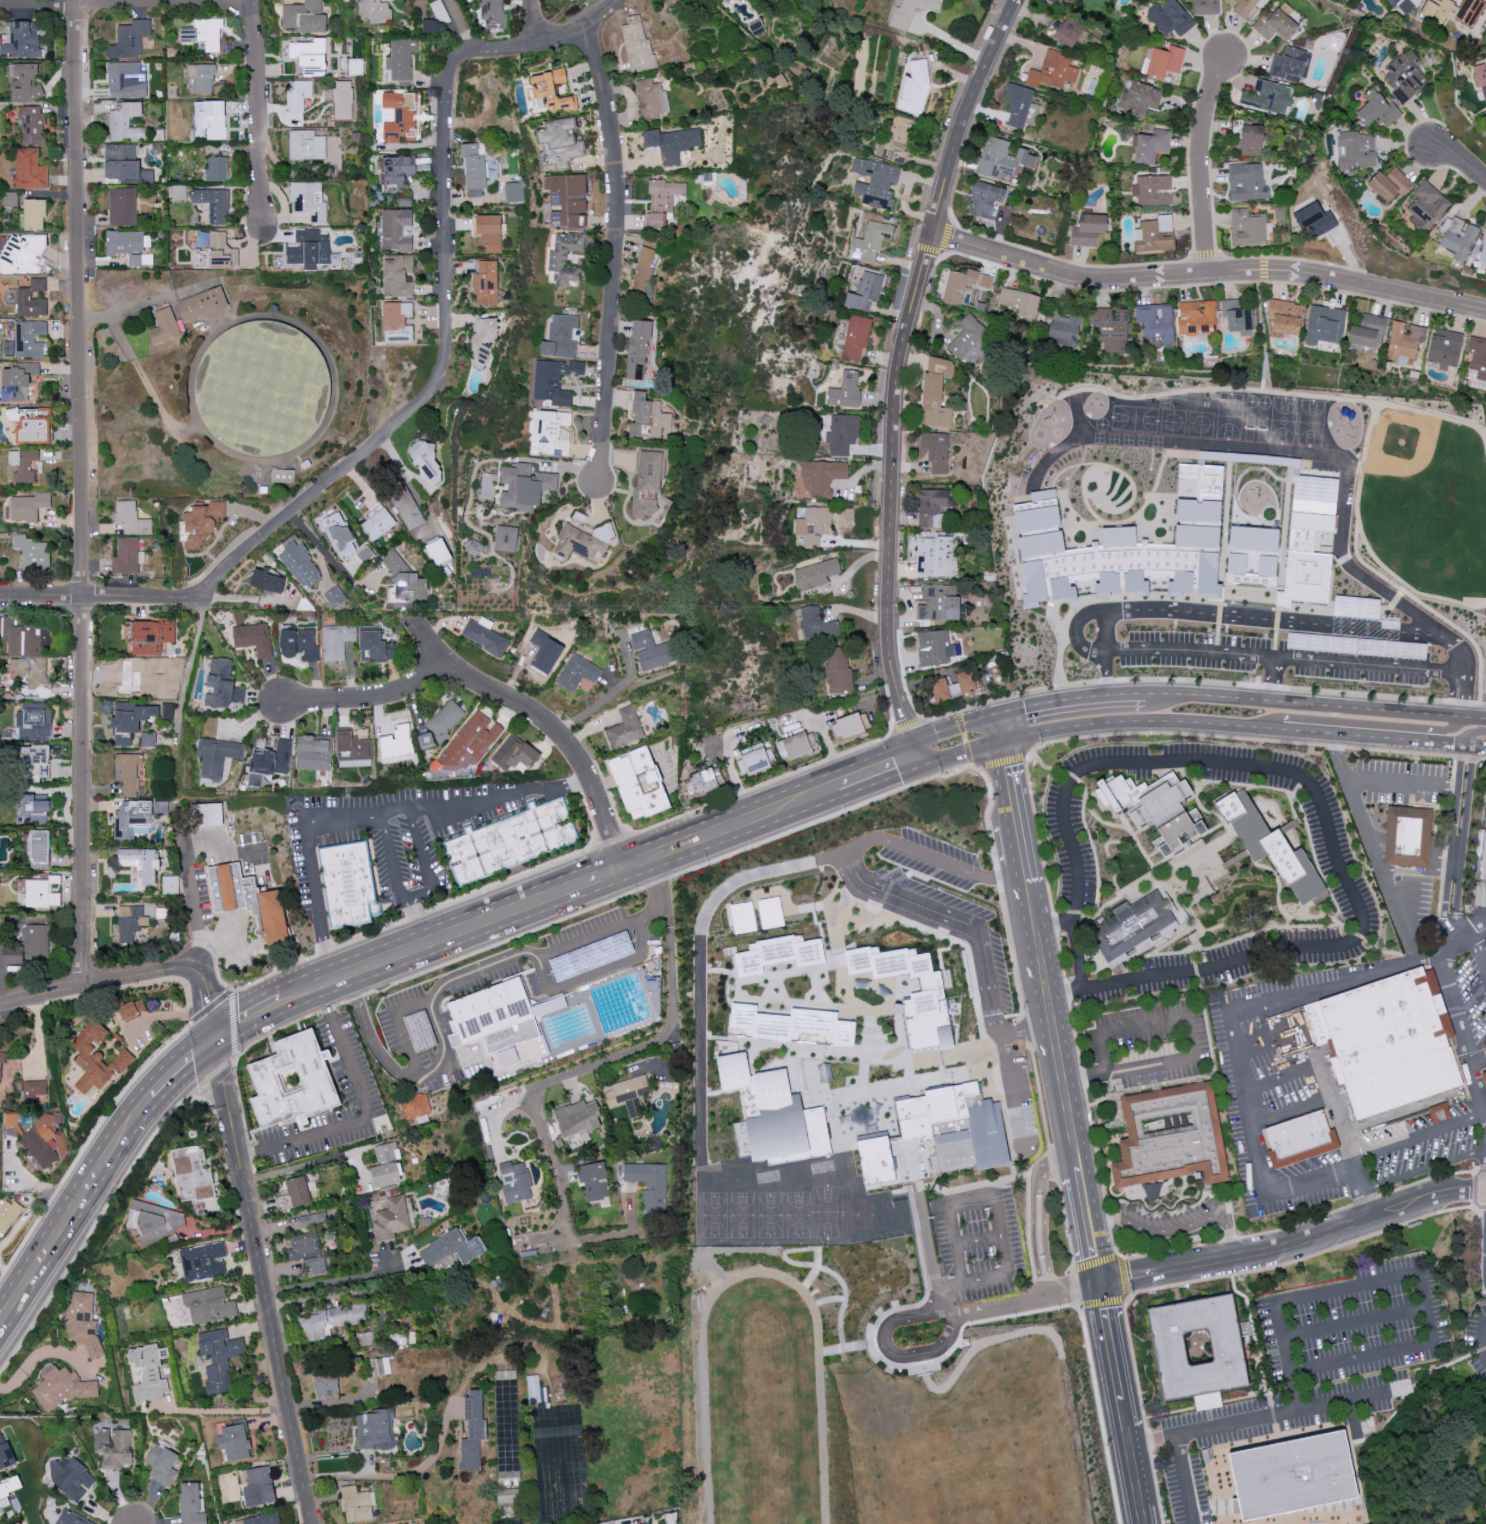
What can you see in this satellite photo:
road: (126, 1)
building: (1404, 5)
building: (1206, 7)
building: (1243, 7)
building: (374, 10)
building: (909, 11)
building: (1452, 11)
building: (491, 14)
building: (304, 16)
building: (1170, 17)
road: (534, 23)
road: (462, 25)
building: (1274, 25)
road: (577, 27)
building: (1070, 31)
building: (203, 33)
building: (130, 39)
building: (22, 40)
building: (637, 45)
building: (400, 61)
building: (1163, 61)
building: (307, 62)
building: (1290, 64)
building: (355, 66)
building: (1053, 72)
building: (1405, 77)
building: (1480, 77)
building: (205, 79)
building: (126, 80)
building: (25, 83)
building: (915, 88)
building: (551, 90)
building: (298, 95)
building: (1267, 96)
building: (651, 98)
building: (342, 99)
building: (1139, 99)
building: (1377, 108)
road: (259, 115)
building: (399, 116)
building: (210, 119)
building: (0, 121)
building: (126, 121)
building: (31, 125)
building: (895, 140)
building: (1251, 140)
building: (672, 142)
building: (560, 143)
building: (306, 145)
building: (1149, 146)
building: (1356, 150)
building: (1001, 158)
road: (1461, 161)
building: (123, 164)
road: (1201, 164)
building: (216, 168)
building: (29, 169)
building: (473, 169)
building: (398, 171)
road: (448, 173)
building: (875, 182)
building: (1247, 182)
building: (1390, 183)
building: (1153, 189)
building: (514, 191)
building: (178, 192)
building: (570, 198)
building: (984, 199)
building: (10, 200)
building: (309, 200)
building: (662, 201)
building: (213, 204)
building: (1426, 205)
building: (122, 206)
building: (34, 214)
building: (1315, 219)
building: (1247, 227)
building: (1088, 229)
building: (396, 230)
building: (488, 232)
building: (1155, 234)
building: (1457, 237)
building: (870, 241)
building: (130, 246)
building: (1483, 248)
building: (308, 249)
building: (222, 251)
building: (23, 253)
road: (615, 253)
building: (564, 257)
building: (644, 265)
road: (1207, 274)
building: (397, 275)
building: (486, 282)
building: (963, 284)
building: (865, 291)
building: (24, 295)
building: (202, 303)
building: (1238, 316)
building: (1196, 317)
building: (1284, 317)
building: (397, 322)
building: (1156, 322)
building: (1061, 323)
building: (1324, 325)
building: (164, 326)
building: (1112, 328)
building: (1367, 330)
building: (561, 336)
building: (855, 338)
building: (30, 339)
building: (970, 339)
building: (483, 340)
building: (1404, 341)
building: (638, 350)
building: (1445, 350)
building: (1476, 357)
road: (895, 375)
building: (20, 379)
building: (553, 380)
building: (262, 384)
storage tank: (262, 384)
building: (845, 391)
building: (936, 392)
building: (648, 416)
building: (30, 424)
building: (550, 433)
building: (842, 434)
building: (935, 451)
building: (426, 462)
building: (23, 464)
building: (282, 475)
building: (647, 482)
road: (324, 484)
building: (524, 486)
road: (80, 491)
building: (28, 506)
building: (406, 506)
building: (931, 507)
building: (131, 518)
building: (202, 524)
building: (378, 524)
building: (812, 525)
park: (1429, 526)
building: (339, 535)
building: (1310, 537)
building: (507, 538)
building: (580, 540)
building: (1123, 550)
building: (438, 551)
building: (32, 552)
building: (127, 556)
building: (934, 556)
building: (1252, 556)
building: (300, 565)
building: (816, 573)
building: (405, 579)
building: (267, 580)
road: (102, 594)
building: (334, 596)
park: (1305, 596)
building: (939, 602)
road: (1304, 622)
building: (817, 624)
road: (1108, 624)
parking lot: (1126, 632)
building: (150, 635)
building: (486, 636)
park: (1386, 637)
building: (22, 638)
building: (253, 638)
building: (336, 641)
park: (1358, 642)
building: (299, 644)
building: (374, 646)
building: (934, 648)
building: (652, 651)
building: (545, 653)
road: (1285, 656)
parking lot: (1372, 663)
building: (837, 669)
building: (31, 670)
road: (189, 670)
road: (1105, 670)
building: (577, 672)
road: (1271, 677)
road: (1202, 680)
building: (222, 684)
building: (963, 684)
building: (939, 689)
road: (610, 694)
road: (1464, 695)
road: (1208, 697)
road: (368, 698)
road: (1071, 699)
road: (1378, 711)
traffic signals: (998, 714)
road: (543, 718)
building: (135, 719)
road: (906, 722)
road: (1347, 722)
building: (30, 723)
building: (441, 724)
road: (1211, 724)
building: (849, 726)
road: (1096, 726)
road: (1000, 727)
building: (625, 728)
road: (1279, 730)
road: (1470, 733)
building: (148, 739)
building: (397, 741)
traffic signals: (1003, 741)
road: (1407, 741)
building: (470, 742)
traffic signals: (914, 743)
building: (796, 745)
building: (353, 750)
building: (312, 753)
road: (961, 753)
building: (514, 754)
building: (217, 756)
building: (271, 757)
building: (29, 760)
building: (756, 760)
road: (1041, 761)
road: (856, 765)
road: (971, 765)
traffic signals: (921, 767)
road: (1414, 767)
building: (128, 772)
road: (175, 776)
road: (1378, 779)
building: (703, 781)
road: (882, 782)
building: (641, 784)
road: (578, 785)
road: (487, 800)
building: (35, 807)
building: (1155, 807)
building: (160, 808)
road: (1321, 808)
road: (395, 809)
building: (206, 814)
building: (132, 816)
road: (784, 820)
road: (806, 824)
road: (306, 833)
road: (1019, 834)
building: (1416, 836)
building: (509, 840)
building: (1270, 847)
road: (1462, 848)
building: (39, 849)
road: (218, 849)
road: (1446, 849)
road: (1452, 849)
road: (392, 856)
road: (561, 860)
road: (1375, 860)
road: (427, 862)
building: (1484, 862)
building: (141, 865)
road: (951, 870)
building: (348, 882)
building: (170, 884)
road: (191, 889)
road: (661, 893)
building: (40, 894)
building: (249, 901)
building: (770, 912)
road: (501, 916)
building: (742, 917)
road: (419, 920)
road: (1410, 923)
building: (129, 925)
road: (953, 926)
building: (1133, 927)
road: (225, 930)
road: (699, 939)
road: (1468, 939)
road: (591, 940)
building: (35, 941)
road: (1365, 941)
parking lot: (591, 946)
road: (1079, 949)
road: (325, 953)
building: (778, 954)
road: (1480, 955)
road: (1061, 959)
road: (599, 974)
road: (95, 981)
road: (437, 991)
building: (927, 996)
road: (210, 1001)
road: (1456, 1007)
building: (125, 1011)
road: (1204, 1011)
building: (495, 1016)
road: (247, 1018)
road: (235, 1026)
building: (790, 1026)
road: (1449, 1033)
road: (1234, 1035)
road: (371, 1037)
parking lot: (419, 1037)
traffic signals: (217, 1040)
road: (1193, 1040)
building: (1390, 1042)
road: (444, 1044)
road: (1254, 1046)
building: (95, 1059)
road: (1479, 1062)
parking lot: (348, 1063)
road: (184, 1066)
road: (585, 1067)
building: (1, 1068)
road: (1008, 1069)
road: (1484, 1071)
road: (1061, 1074)
road: (1472, 1074)
road: (1282, 1077)
building: (1484, 1077)
building: (291, 1081)
road: (1479, 1087)
building: (34, 1091)
parking lot: (1017, 1093)
building: (627, 1095)
building: (415, 1105)
road: (146, 1108)
road: (1291, 1111)
building: (773, 1112)
building: (578, 1116)
road: (371, 1117)
building: (11, 1119)
building: (956, 1126)
road: (1420, 1135)
building: (1177, 1137)
building: (1307, 1137)
road: (1348, 1139)
building: (41, 1143)
road: (86, 1145)
building: (875, 1159)
road: (310, 1162)
building: (385, 1164)
road: (1426, 1168)
building: (192, 1173)
building: (514, 1180)
building: (593, 1180)
building: (649, 1182)
road: (1476, 1188)
building: (293, 1193)
road: (997, 1210)
park: (827, 1212)
road: (1041, 1213)
park: (713, 1214)
park: (742, 1214)
park: (770, 1214)
park: (797, 1214)
building: (8, 1215)
building: (391, 1218)
road: (67, 1219)
building: (313, 1219)
building: (152, 1222)
road: (1178, 1228)
road: (92, 1229)
road: (979, 1240)
road: (928, 1241)
parking lot: (974, 1243)
road: (1294, 1243)
building: (303, 1246)
building: (451, 1246)
road: (1093, 1249)
building: (202, 1261)
road: (334, 1280)
traffic signals: (1098, 1280)
road: (264, 1281)
road: (1190, 1281)
road: (1073, 1284)
road: (1342, 1290)
park: (892, 1296)
building: (208, 1304)
road: (1080, 1305)
road: (1000, 1307)
building: (335, 1318)
building: (81, 1322)
road: (1357, 1322)
road: (1483, 1334)
road: (937, 1336)
road: (1483, 1343)
building: (1170, 1346)
road: (1476, 1351)
building: (219, 1358)
road: (1258, 1362)
building: (380, 1366)
building: (150, 1373)
building: (325, 1384)
road: (1001, 1385)
building: (61, 1387)
road: (1054, 1391)
road: (1269, 1393)
road: (1352, 1399)
road: (1120, 1401)
track: (763, 1405)
road: (226, 1411)
road: (1169, 1413)
road: (1396, 1413)
road: (1098, 1414)
road: (1317, 1429)
building: (374, 1430)
building: (473, 1430)
park: (958, 1431)
building: (234, 1442)
building: (113, 1447)
building: (5, 1452)
road: (1078, 1454)
road: (1182, 1456)
building: (162, 1462)
road: (394, 1475)
building: (1294, 1475)
building: (71, 1479)
building: (258, 1486)
building: (10, 1487)
building: (508, 1497)
building: (191, 1503)
building: (356, 1504)
building: (72, 1518)
building: (261, 1520)
road: (1274, 1520)
road: (1292, 1520)
building: (19, 1523)
building: (647, 1523)

